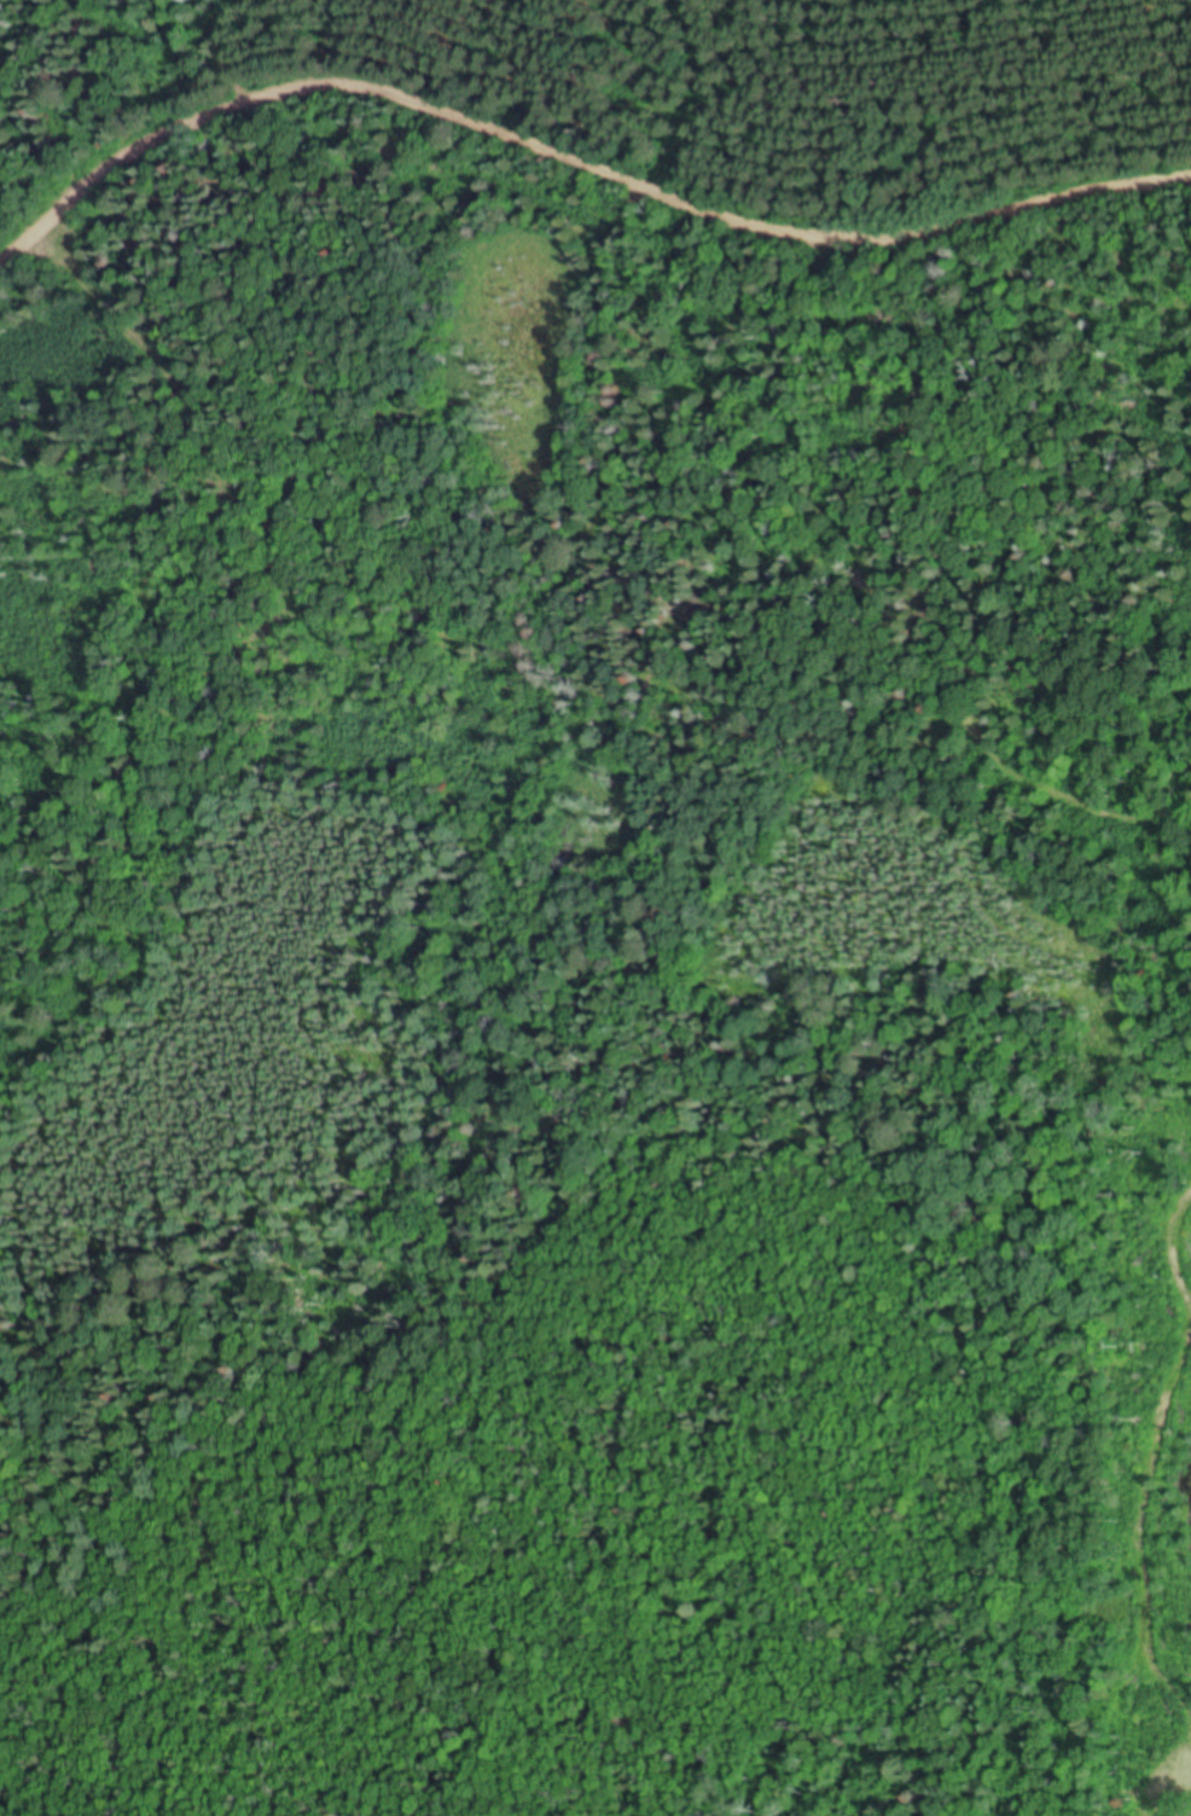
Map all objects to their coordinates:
road: (575, 162)

